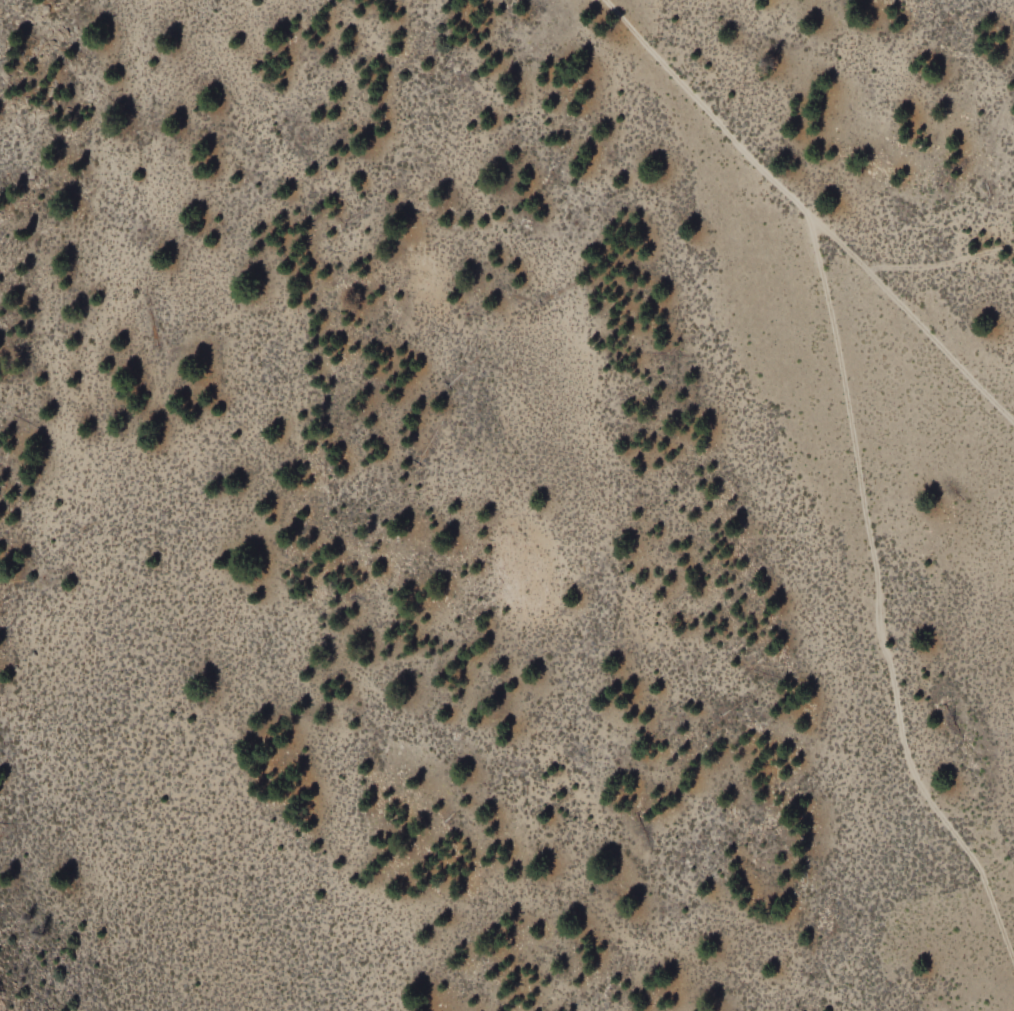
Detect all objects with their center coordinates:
road: (803, 216)
road: (942, 270)
road: (879, 603)

